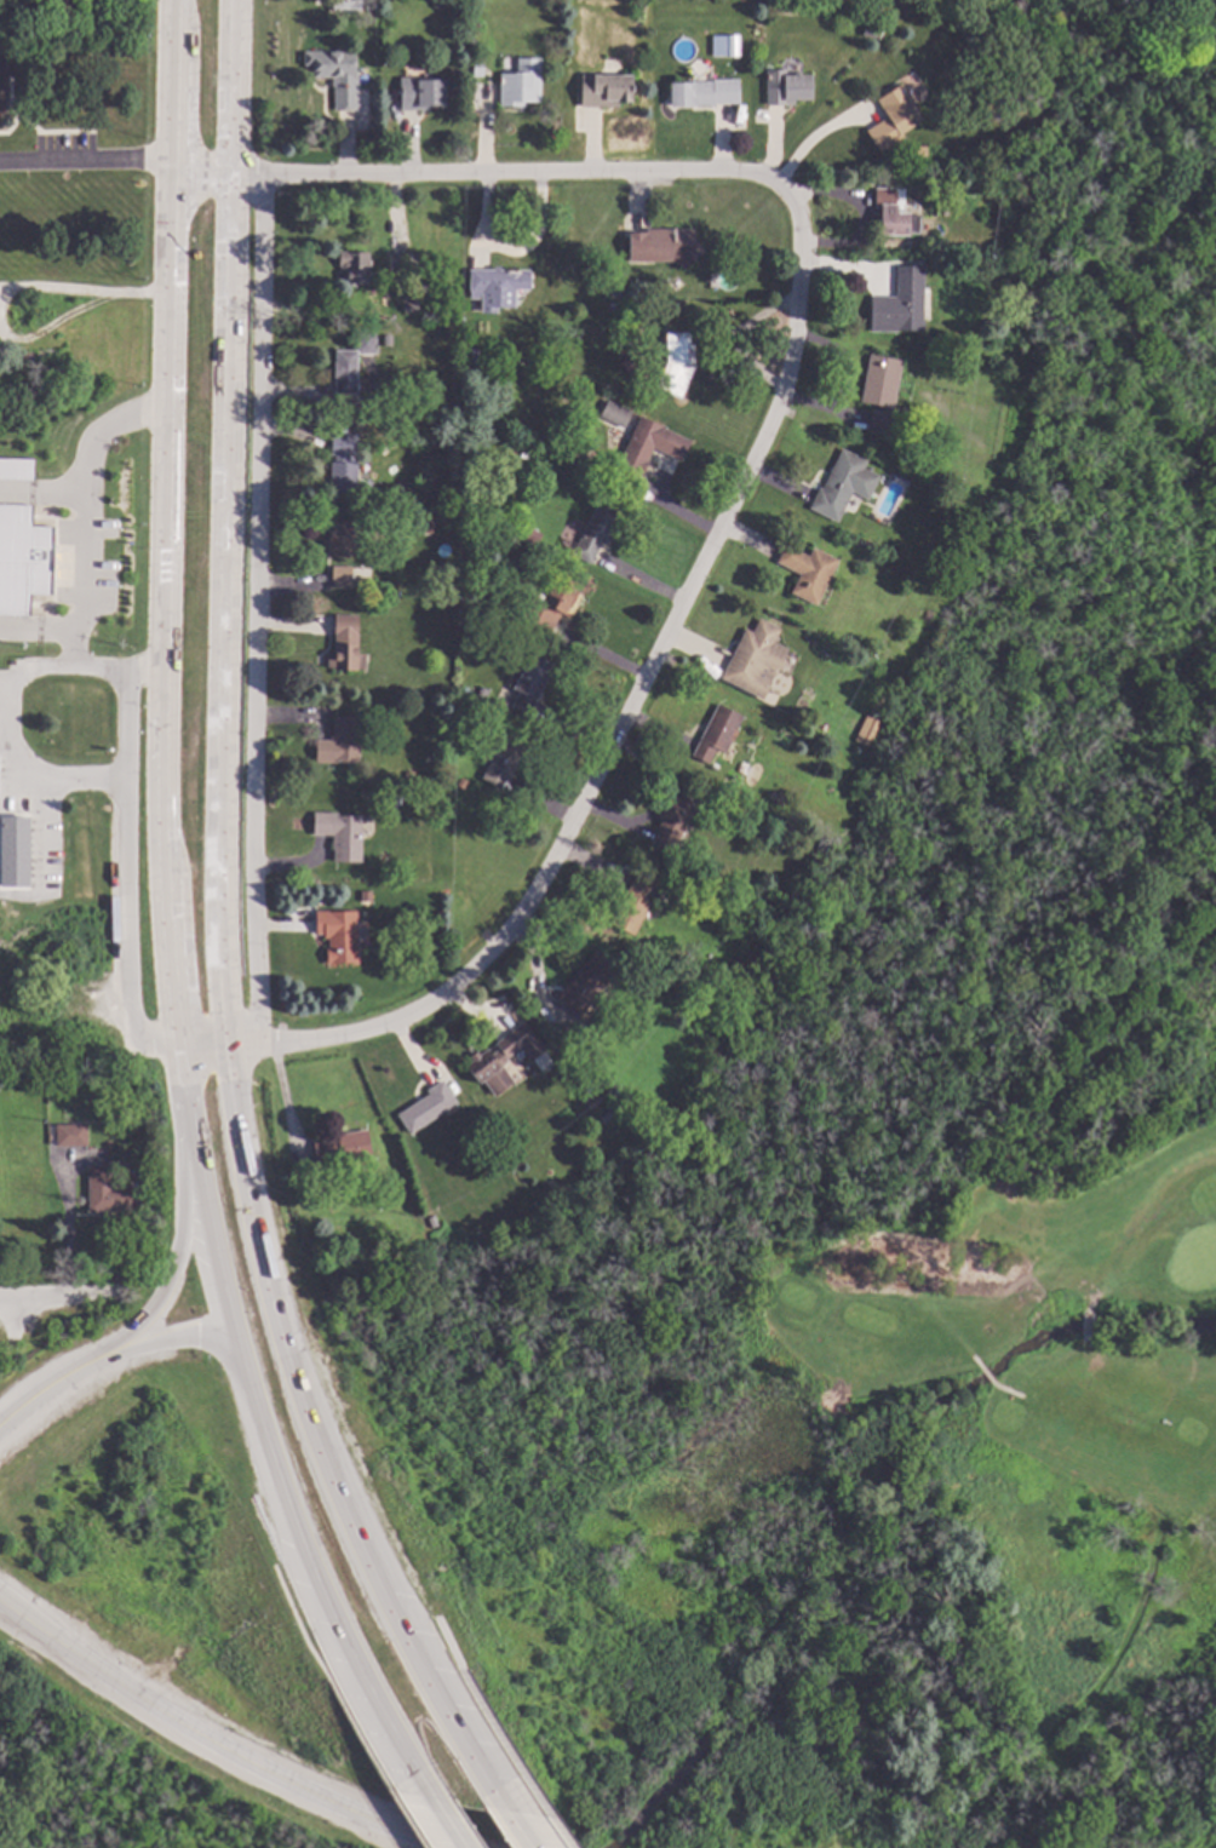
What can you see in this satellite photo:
building: (345, 5)
building: (58, 7)
building: (1, 18)
building: (866, 30)
building: (729, 45)
building: (475, 70)
building: (334, 75)
building: (1, 79)
building: (518, 84)
building: (784, 87)
building: (602, 90)
building: (701, 92)
building: (418, 93)
building: (890, 117)
building: (917, 150)
road: (85, 163)
road: (489, 172)
building: (891, 214)
building: (661, 245)
building: (922, 246)
building: (400, 263)
building: (351, 268)
building: (495, 281)
road: (53, 291)
road: (140, 295)
building: (612, 295)
building: (897, 298)
building: (407, 308)
road: (57, 325)
building: (384, 339)
building: (348, 363)
building: (675, 363)
building: (878, 391)
building: (390, 398)
building: (613, 414)
building: (638, 447)
building: (340, 464)
building: (15, 472)
building: (841, 484)
road: (162, 520)
road: (219, 520)
building: (425, 523)
building: (595, 529)
building: (337, 539)
road: (85, 541)
building: (21, 562)
building: (805, 570)
building: (338, 576)
building: (461, 586)
building: (546, 606)
road: (254, 607)
building: (343, 644)
building: (753, 659)
building: (528, 683)
building: (480, 693)
road: (607, 735)
building: (715, 736)
building: (864, 738)
building: (337, 741)
road: (11, 744)
building: (501, 761)
building: (407, 776)
building: (459, 782)
building: (773, 797)
building: (392, 798)
building: (672, 819)
building: (338, 834)
building: (12, 850)
road: (128, 867)
building: (676, 893)
building: (631, 903)
building: (337, 934)
building: (654, 963)
building: (584, 982)
park: (969, 1052)
building: (501, 1058)
building: (590, 1102)
building: (424, 1107)
building: (71, 1134)
building: (340, 1148)
building: (105, 1190)
building: (328, 1193)
building: (429, 1221)
road: (1137, 1222)
road: (179, 1233)
road: (47, 1293)
road: (222, 1301)
road: (973, 1303)
road: (12, 1316)
road: (945, 1328)
road: (1083, 1328)
road: (176, 1338)
road: (279, 1338)
park: (1029, 1351)
road: (975, 1361)
road: (985, 1374)
road: (50, 1383)
road: (1004, 1390)
road: (326, 1678)
road: (352, 1678)
road: (475, 1703)
road: (444, 1718)
building: (1100, 1728)
road: (191, 1739)
road: (547, 1817)
road: (405, 1818)
road: (434, 1823)
road: (517, 1830)

